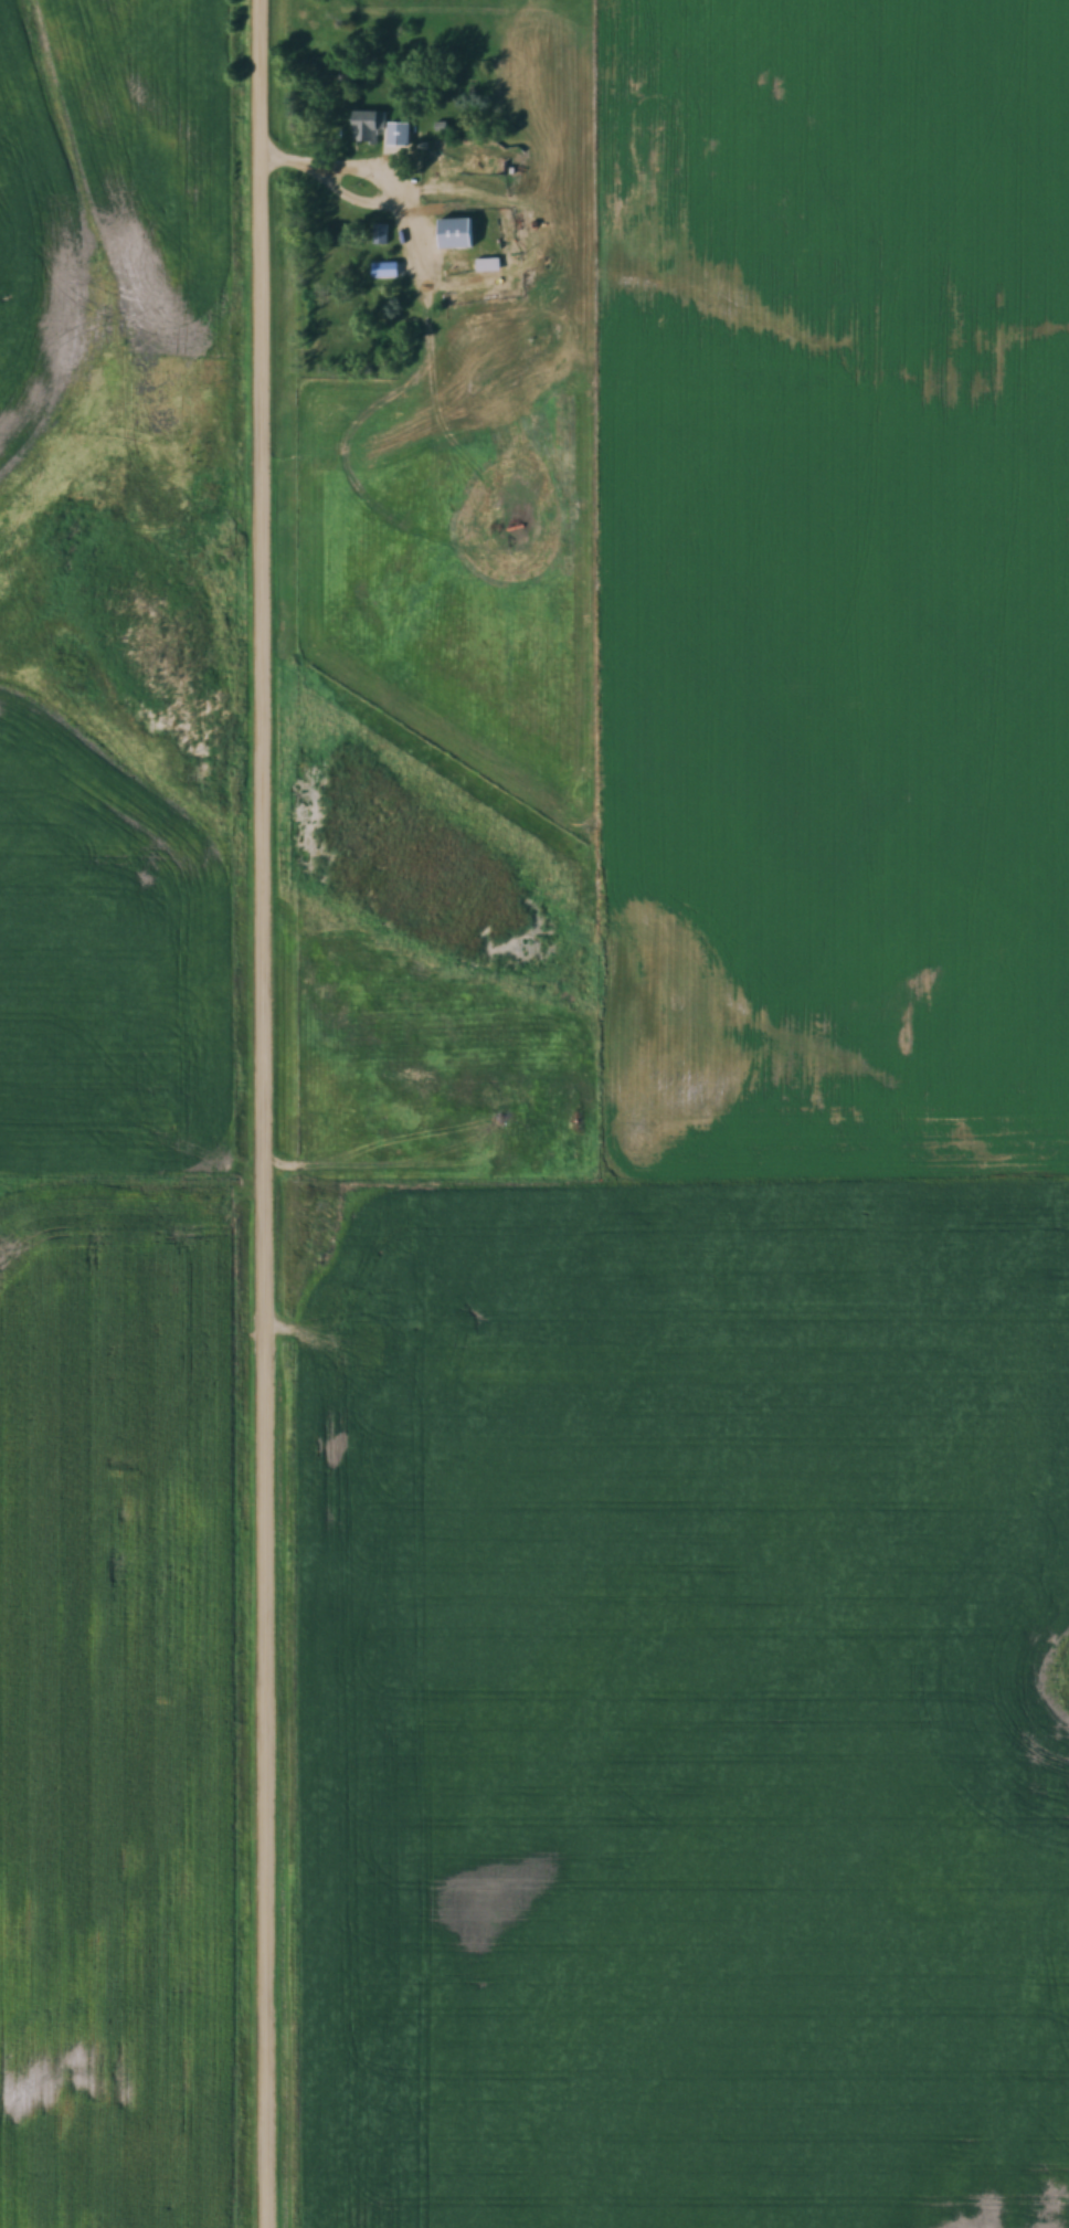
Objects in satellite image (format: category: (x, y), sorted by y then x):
building: (368, 125)
building: (399, 131)
road: (360, 201)
road: (409, 229)
building: (455, 232)
building: (380, 233)
road: (265, 1113)

